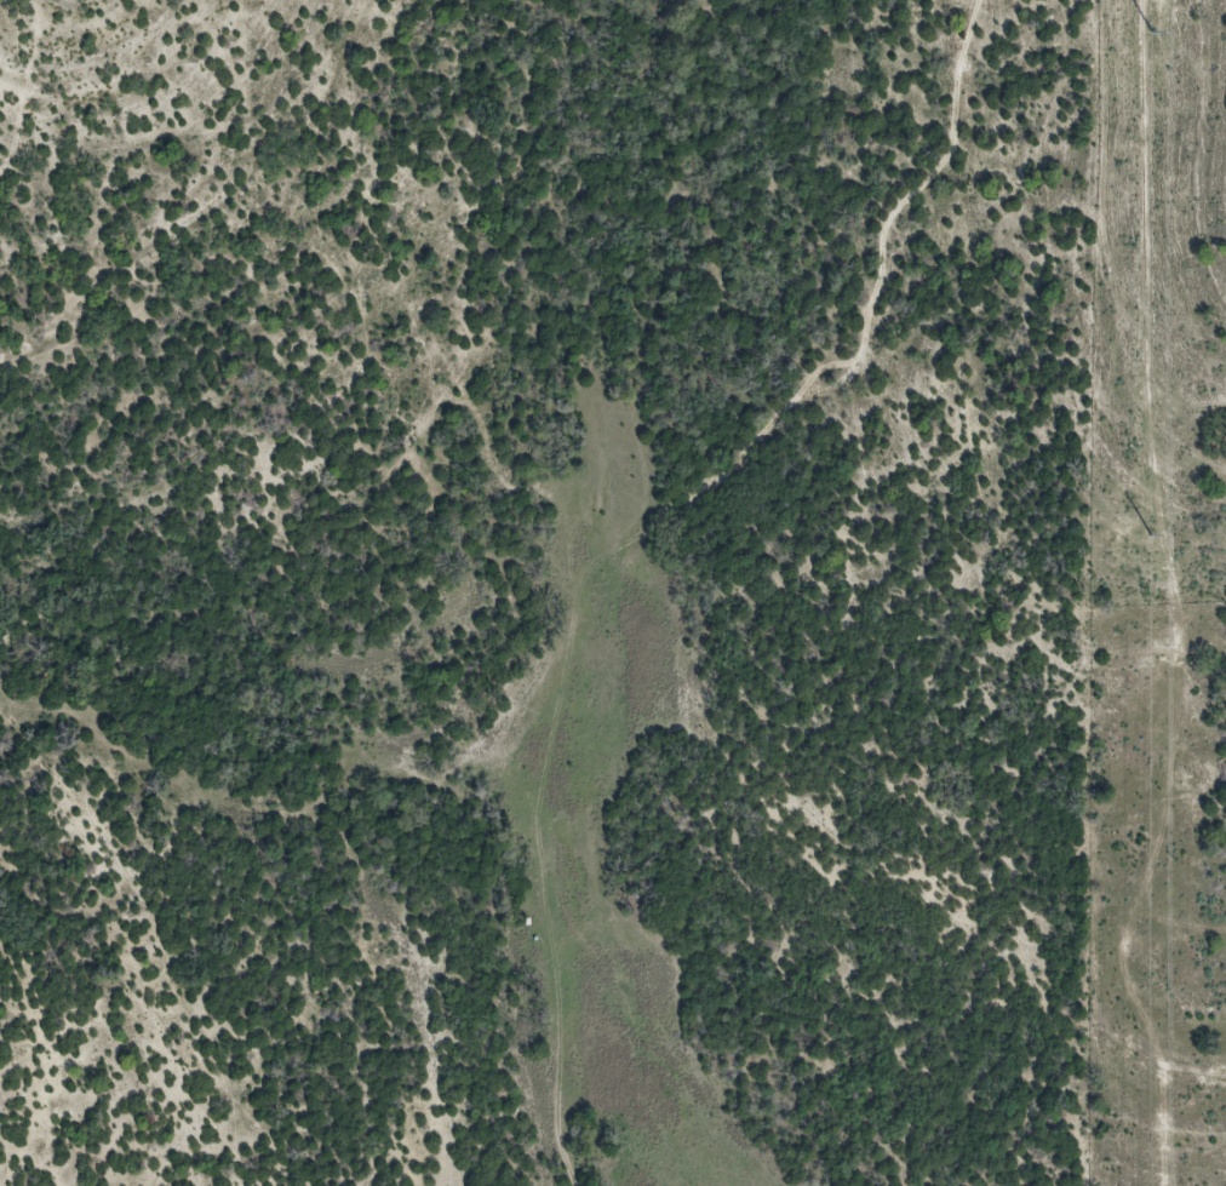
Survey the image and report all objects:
power tower: (1152, 30)
power tower: (1151, 534)

